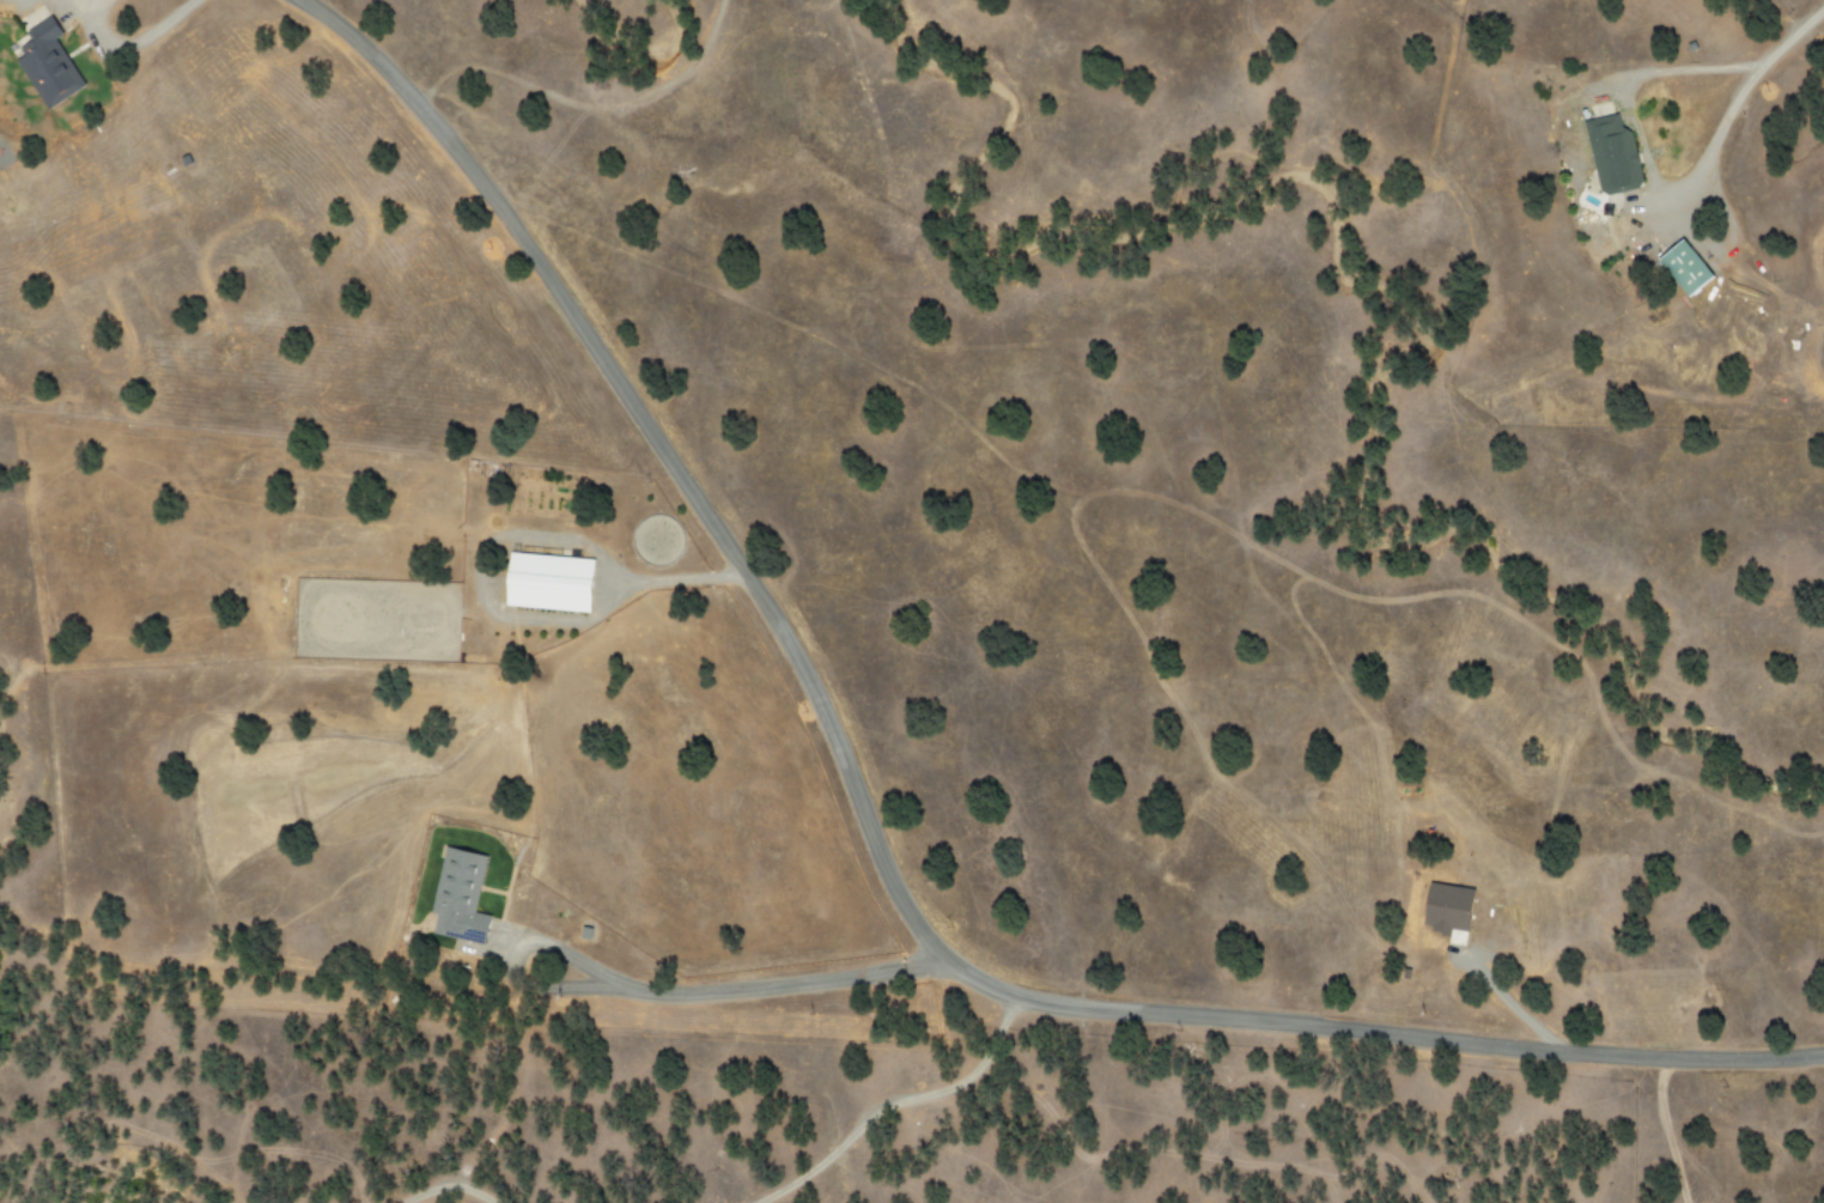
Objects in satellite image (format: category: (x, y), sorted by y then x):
road: (134, 41)
building: (48, 63)
road: (1731, 98)
building: (1613, 153)
building: (1686, 266)
building: (551, 582)
road: (880, 839)
building: (460, 897)
building: (1449, 907)
road: (740, 986)

